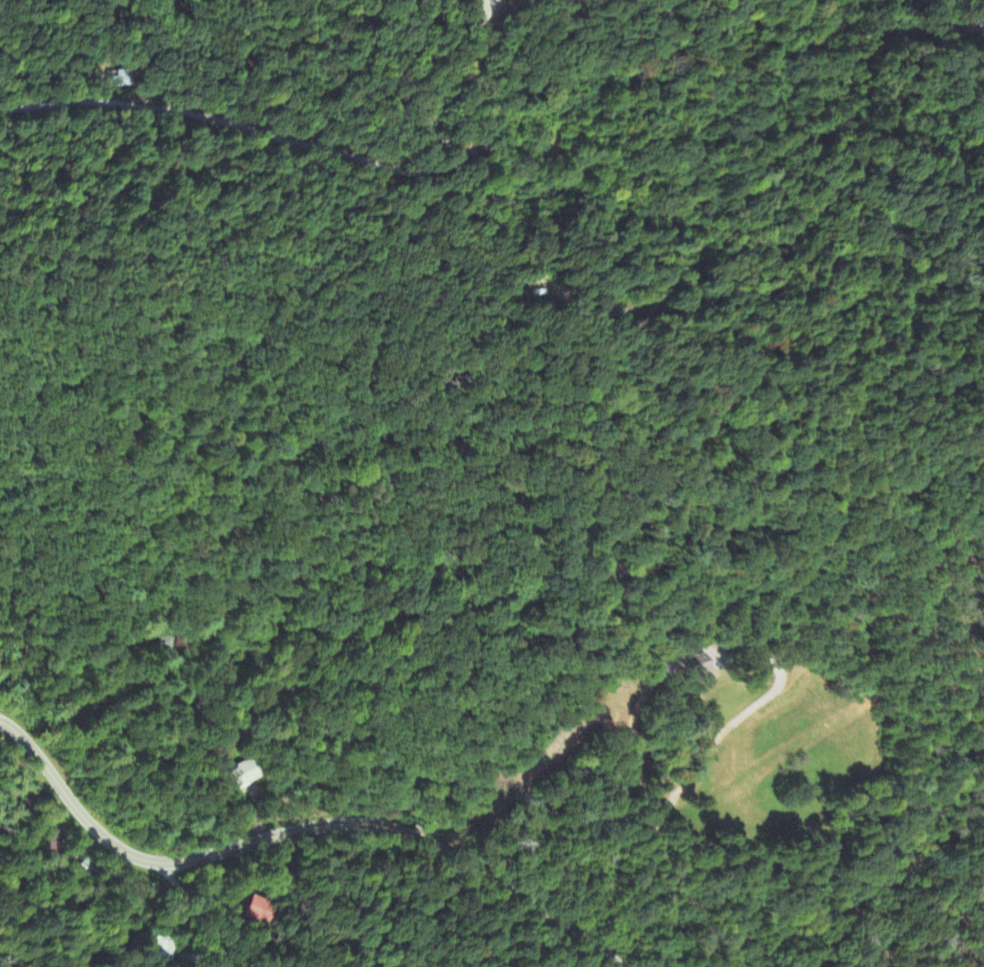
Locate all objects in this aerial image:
building: (982, 8)
road: (460, 89)
road: (515, 151)
building: (700, 665)
building: (244, 773)
road: (297, 832)
road: (656, 833)
building: (55, 843)
building: (260, 910)
road: (186, 914)
building: (162, 948)

